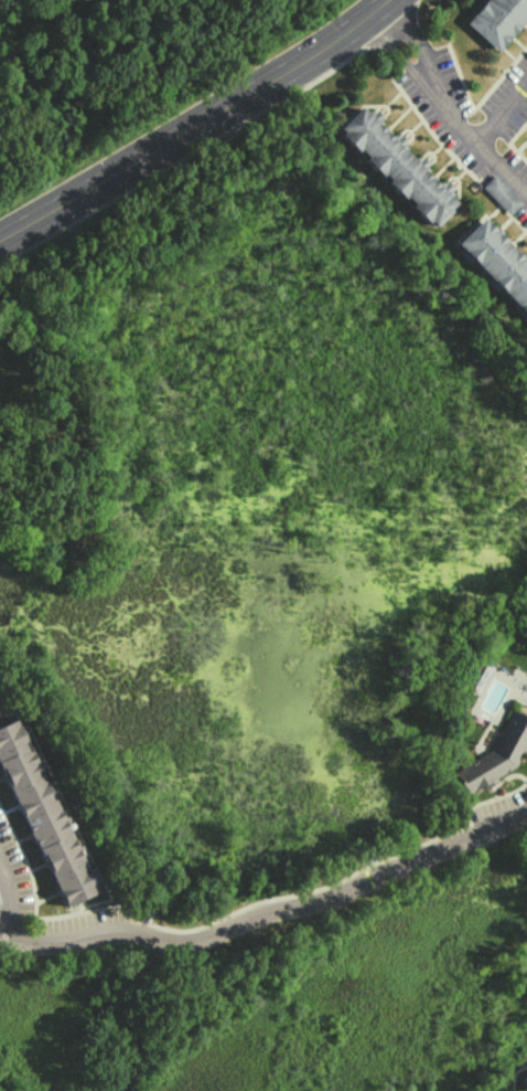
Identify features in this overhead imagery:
building: (497, 20)
road: (443, 113)
road: (499, 116)
road: (198, 123)
building: (396, 165)
building: (498, 194)
building: (496, 261)
building: (495, 755)
building: (41, 815)
road: (6, 903)
road: (268, 915)
building: (524, 1076)

